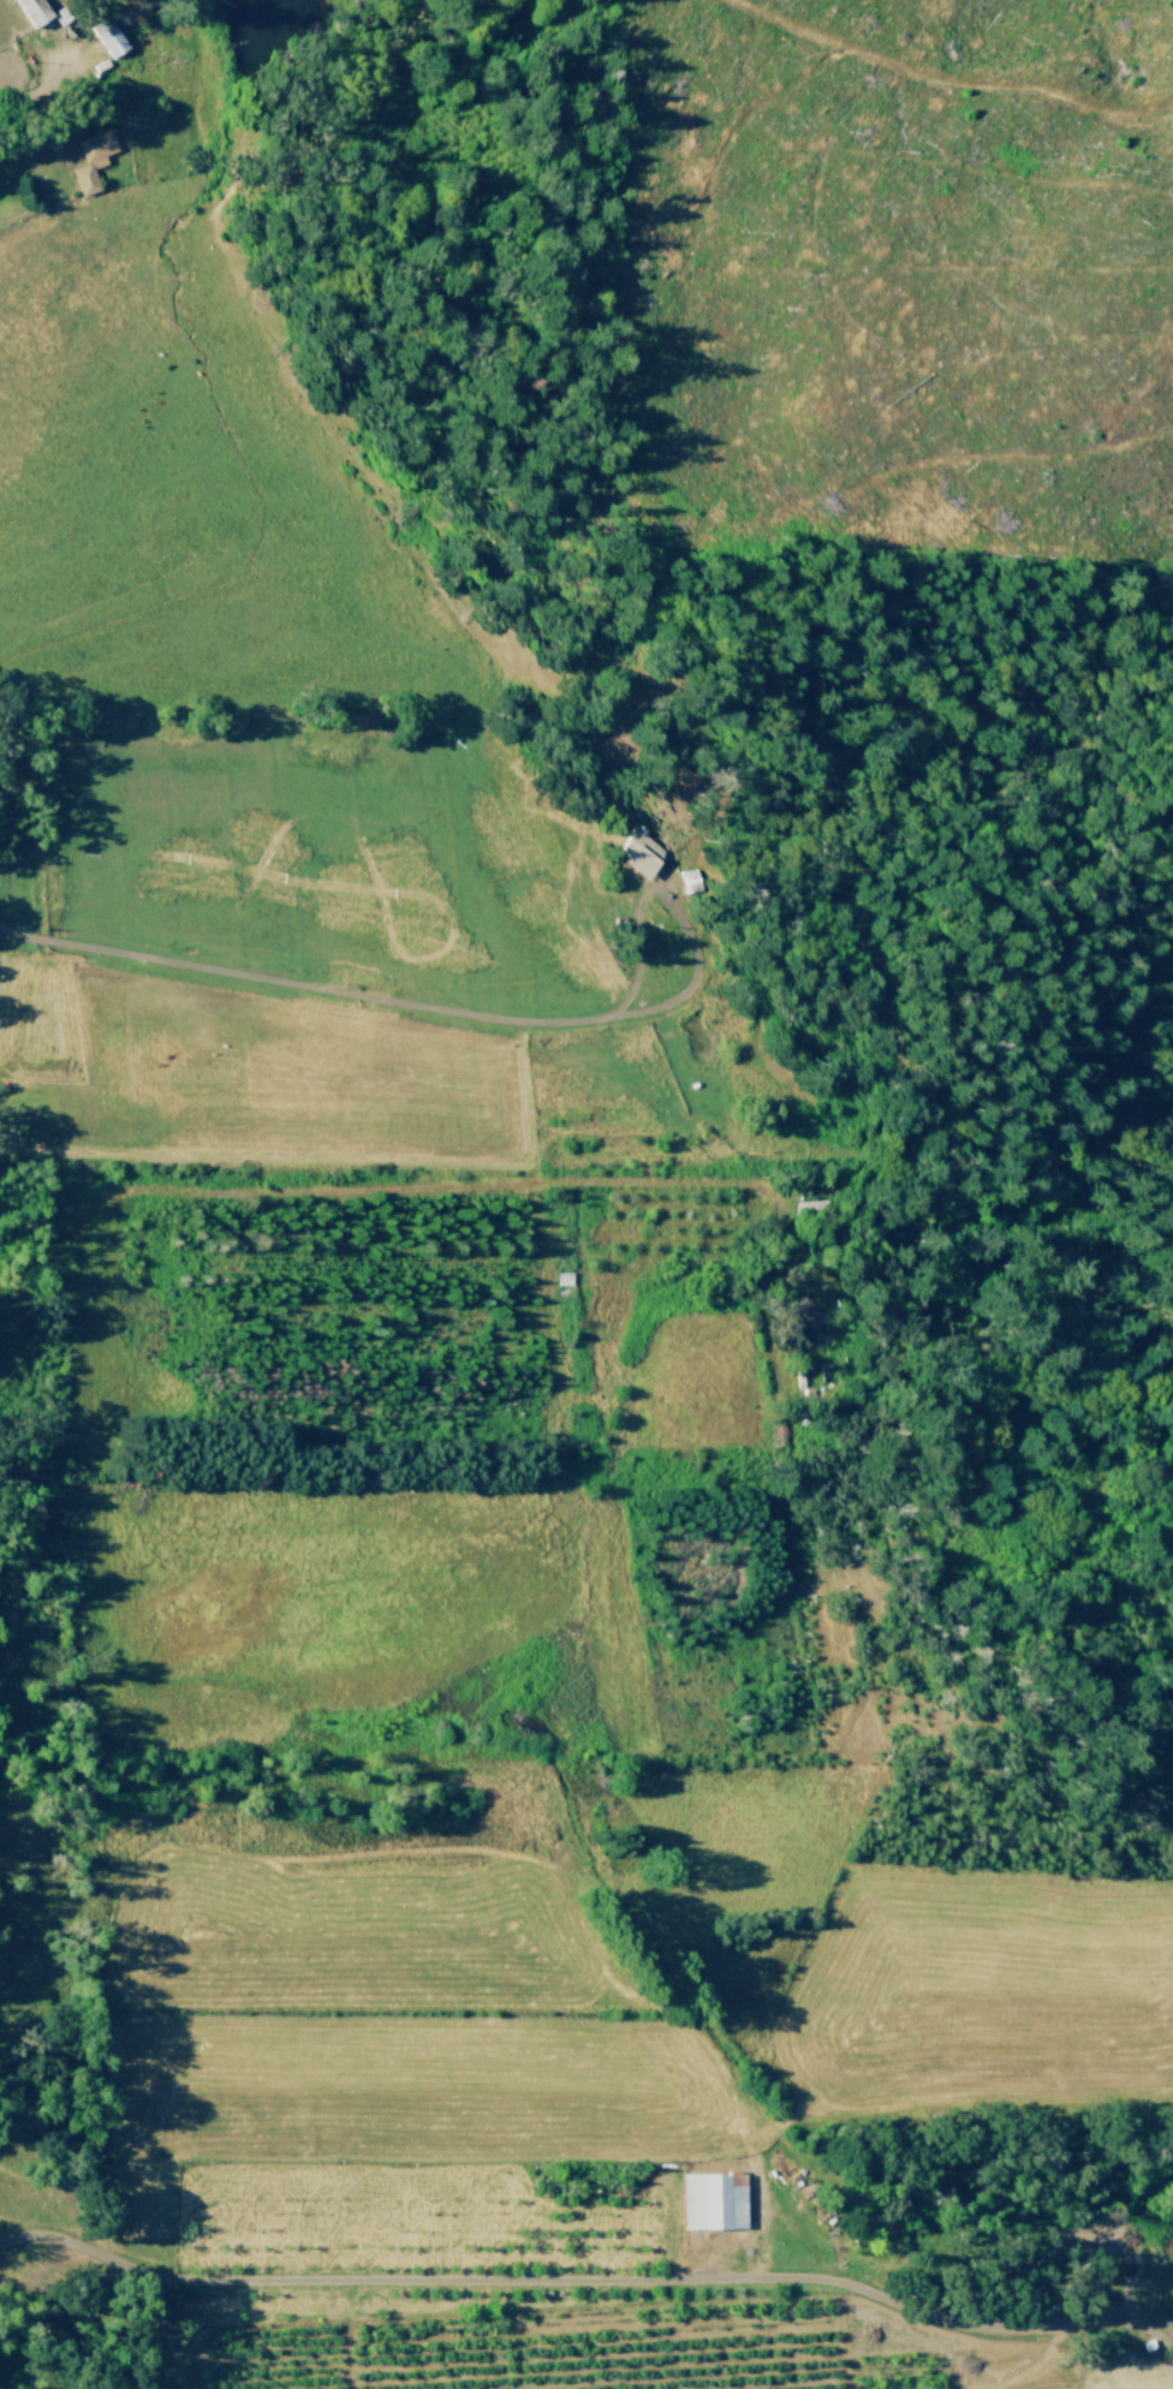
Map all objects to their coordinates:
building: (37, 11)
building: (64, 17)
building: (111, 38)
building: (93, 160)
building: (644, 852)
road: (403, 1005)
road: (409, 1190)
building: (811, 1313)
building: (714, 2202)
road: (590, 2278)

